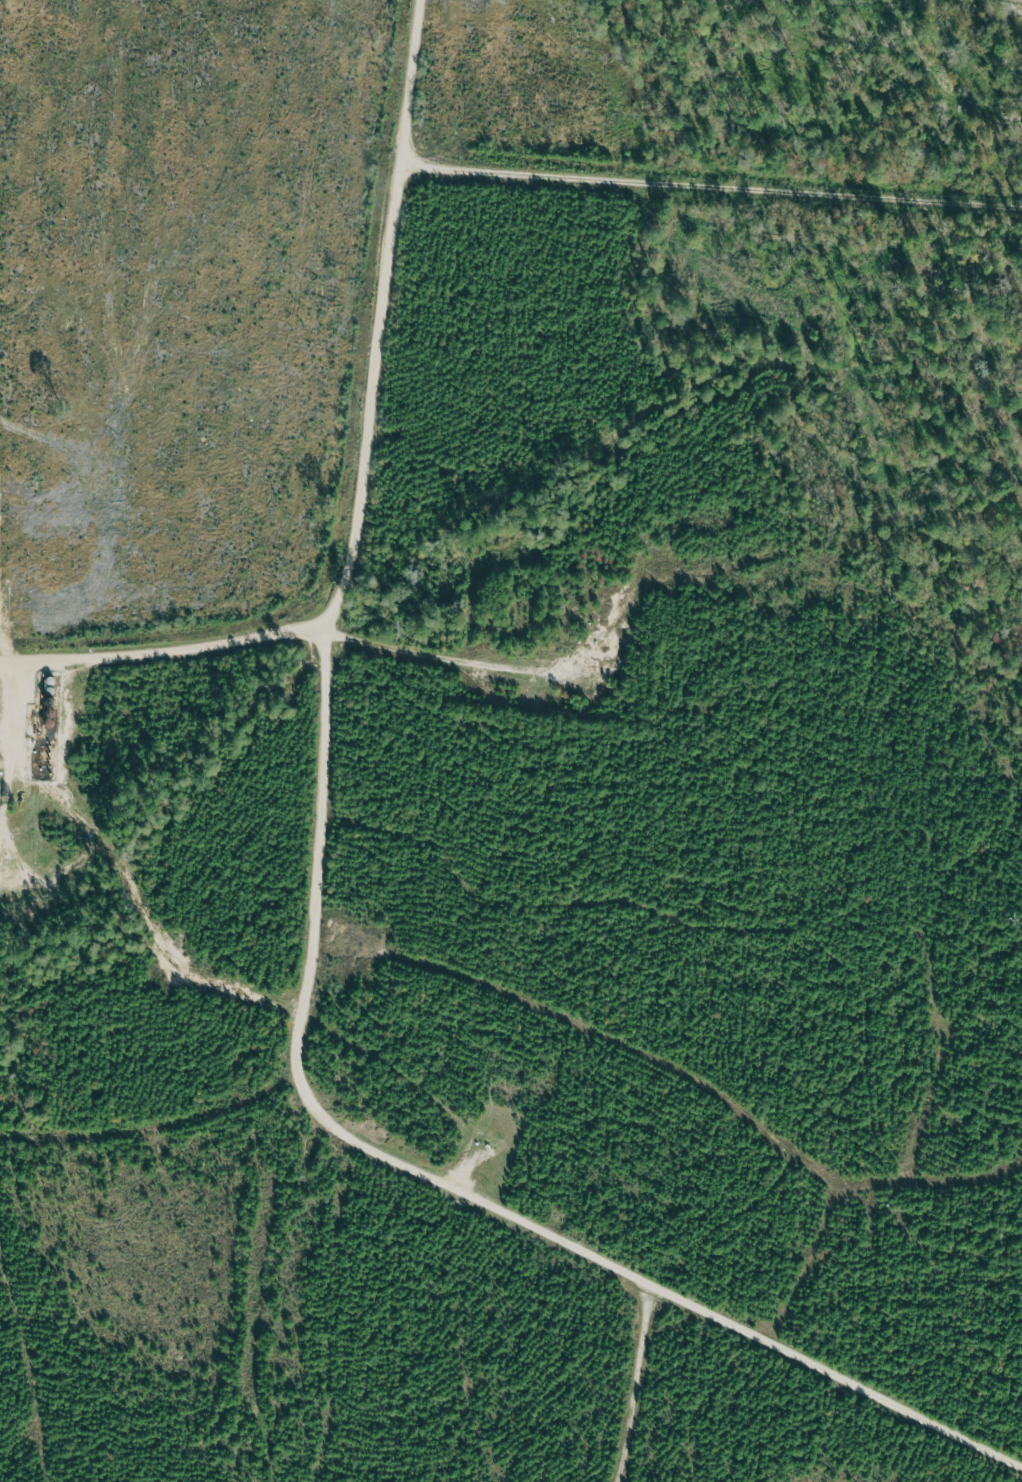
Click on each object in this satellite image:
road: (708, 180)
road: (161, 647)
road: (310, 952)
road: (627, 1384)

